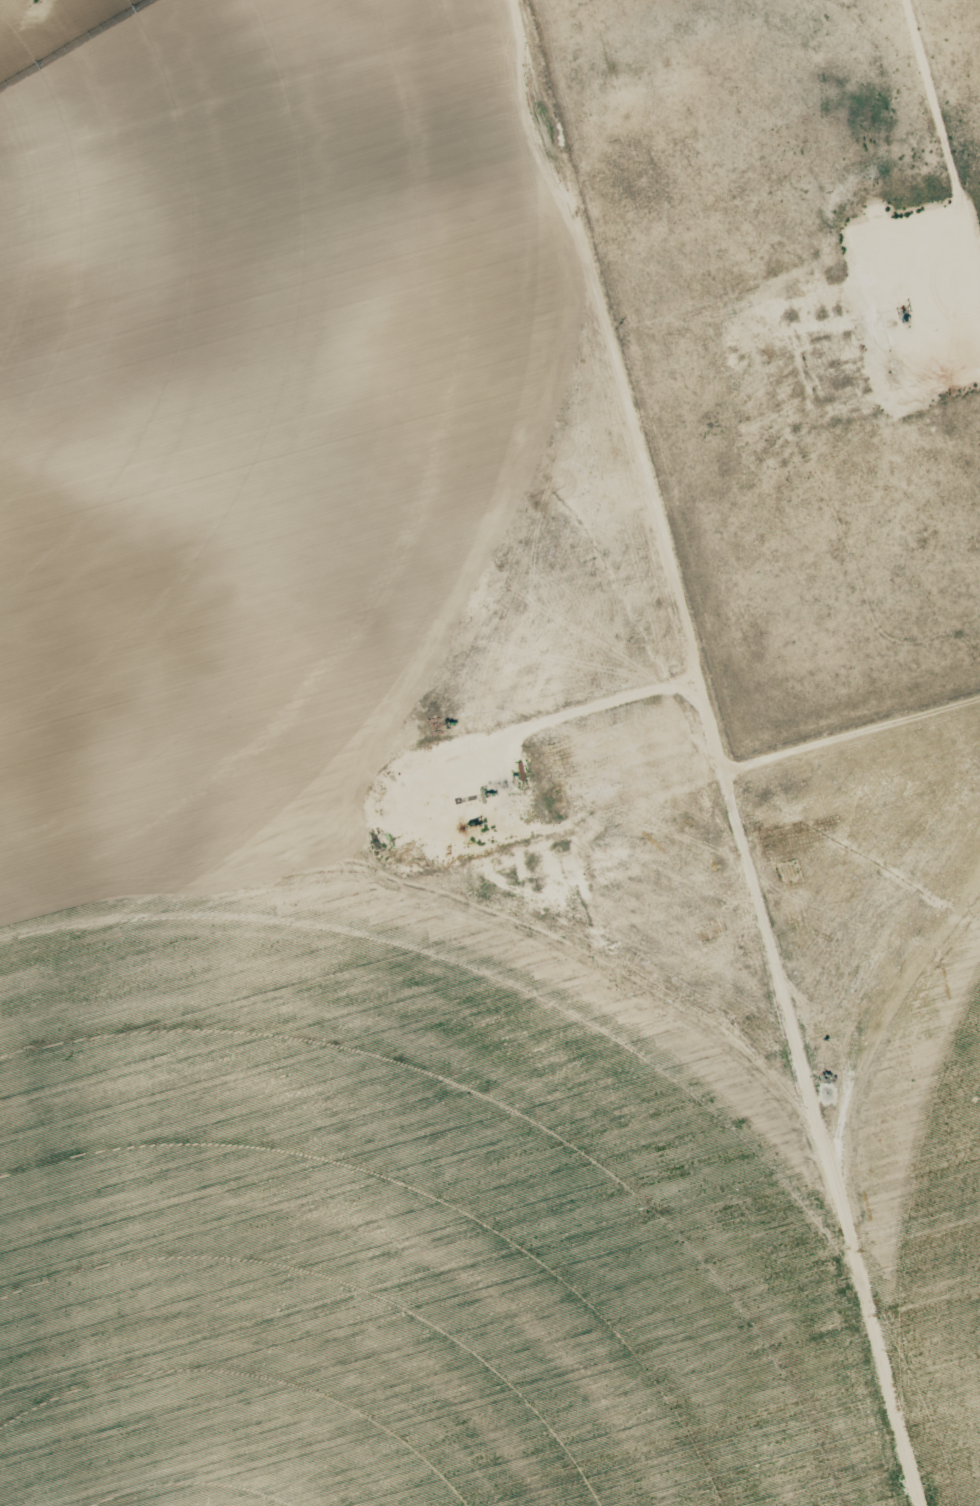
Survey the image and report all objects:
petroleum well: (905, 315)
petroleum well: (527, 775)

